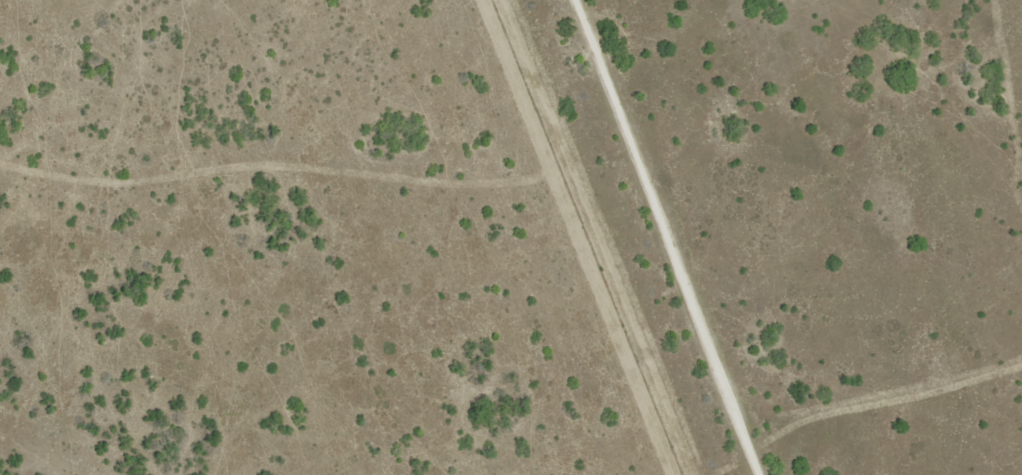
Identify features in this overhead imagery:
road: (671, 236)

